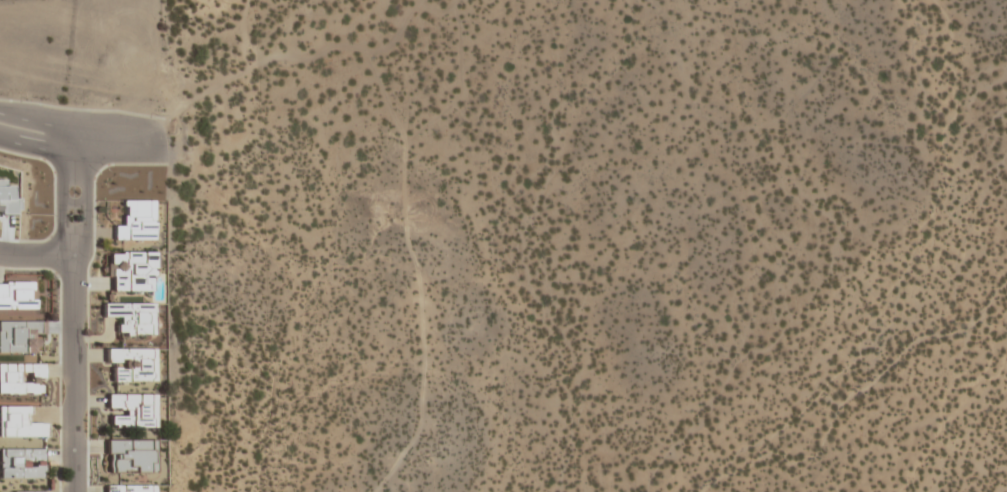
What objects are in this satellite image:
road: (80, 139)
building: (136, 221)
road: (36, 256)
building: (130, 271)
building: (17, 295)
road: (73, 315)
building: (131, 318)
building: (130, 364)
building: (21, 379)
building: (131, 410)
building: (19, 423)
building: (21, 463)
building: (129, 488)
building: (28, 491)

